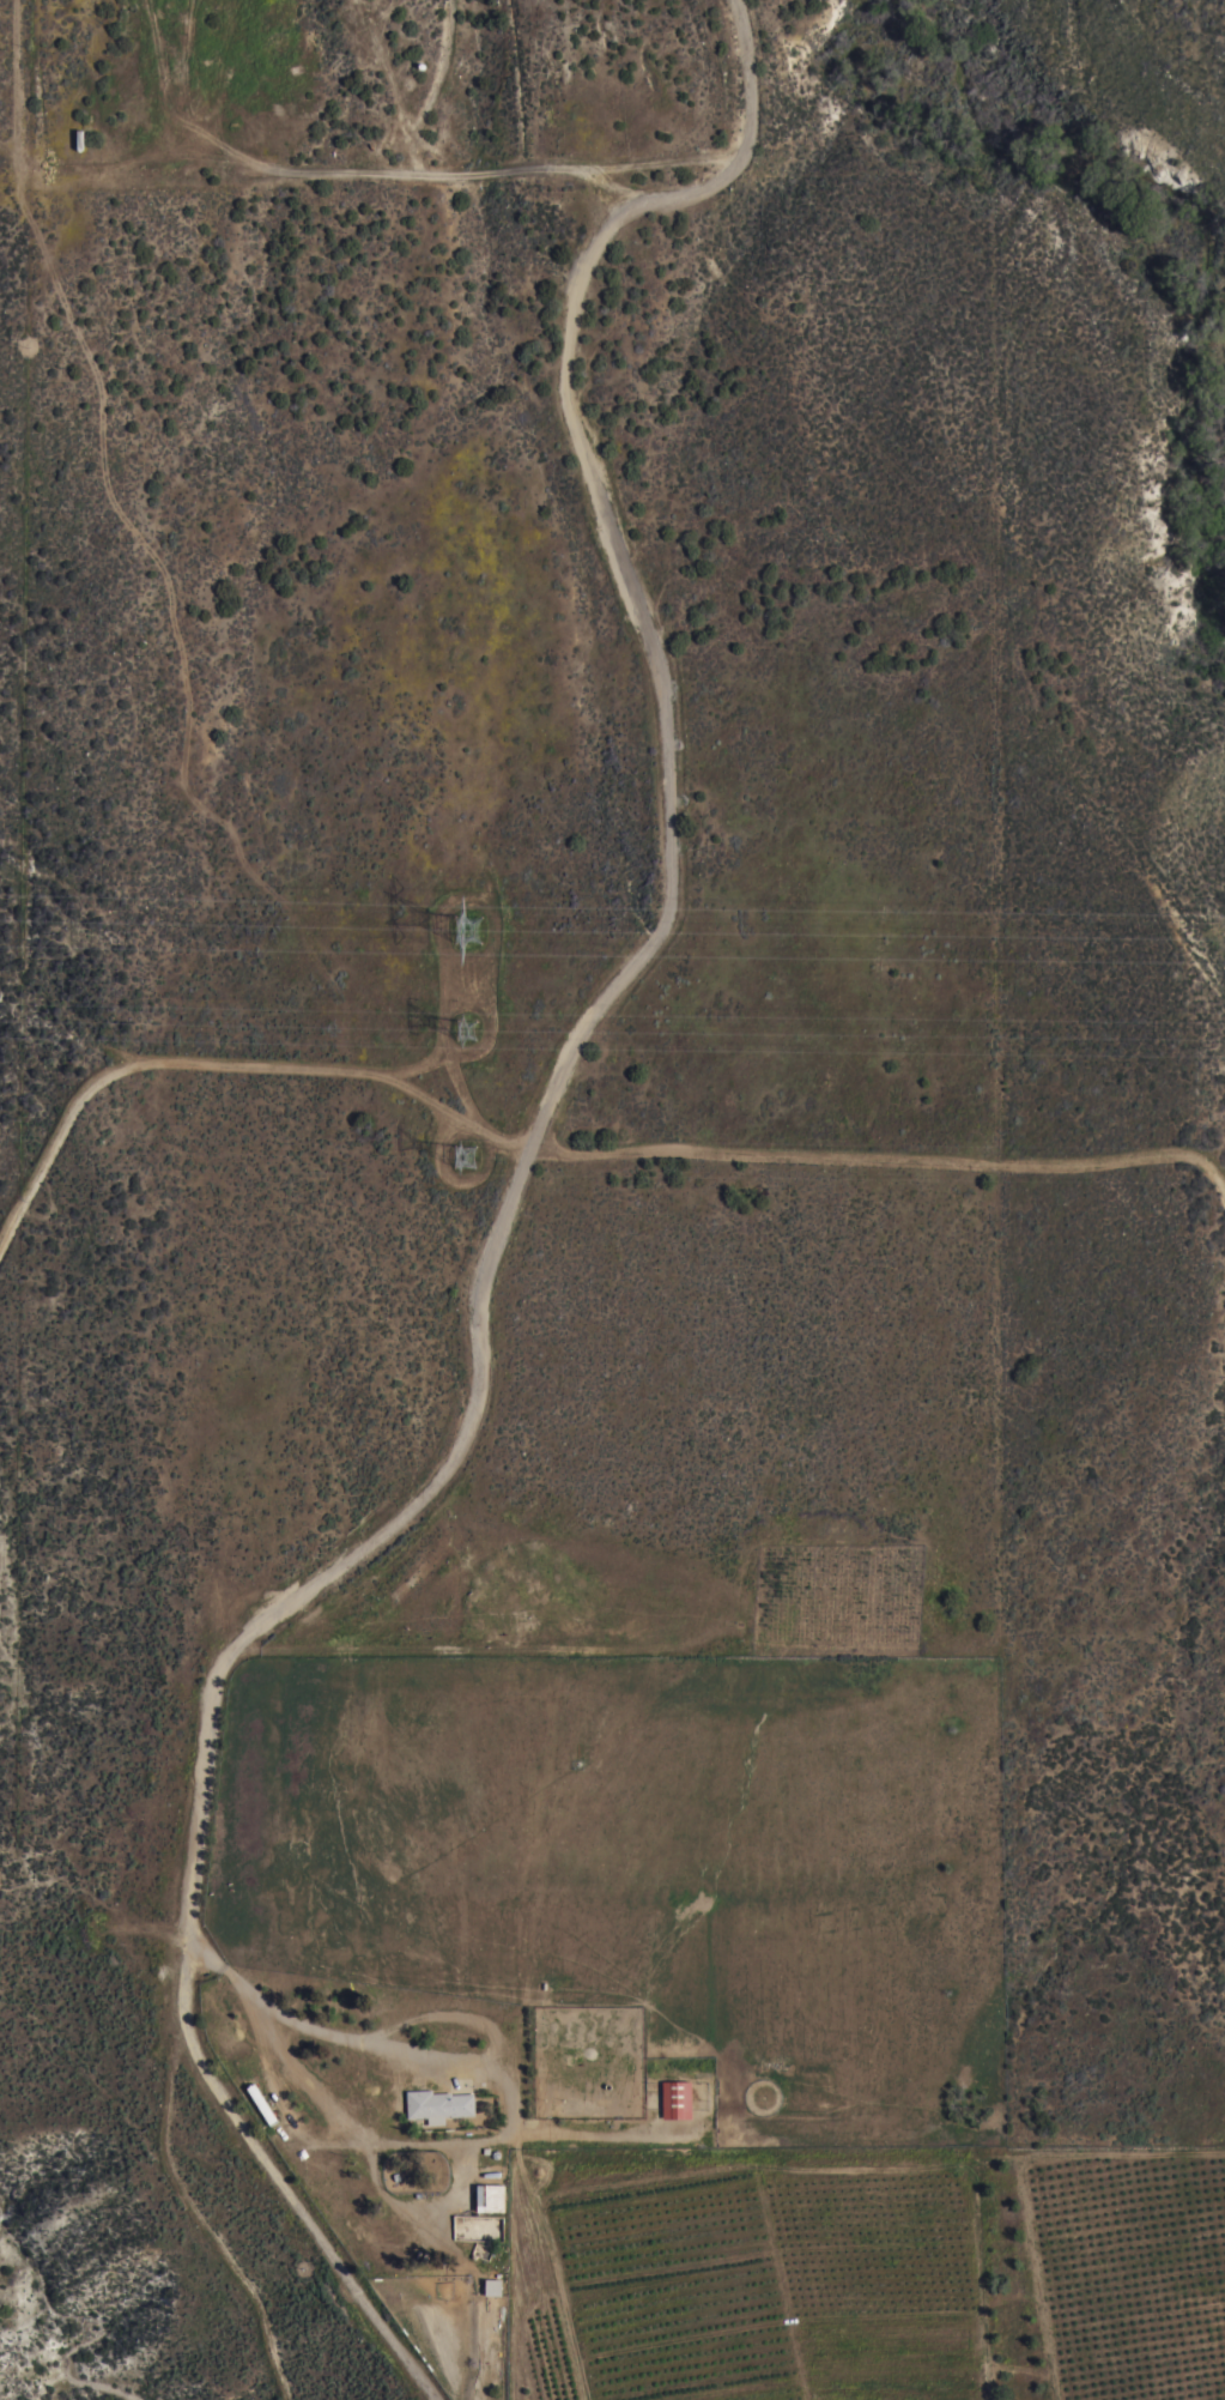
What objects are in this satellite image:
power tower: (469, 930)
power tower: (465, 1034)
road: (557, 1151)
power tower: (463, 1155)
road: (499, 1215)
road: (302, 2024)
building: (677, 2100)
building: (438, 2106)
building: (491, 2199)
crop: (868, 2278)
building: (493, 2289)

